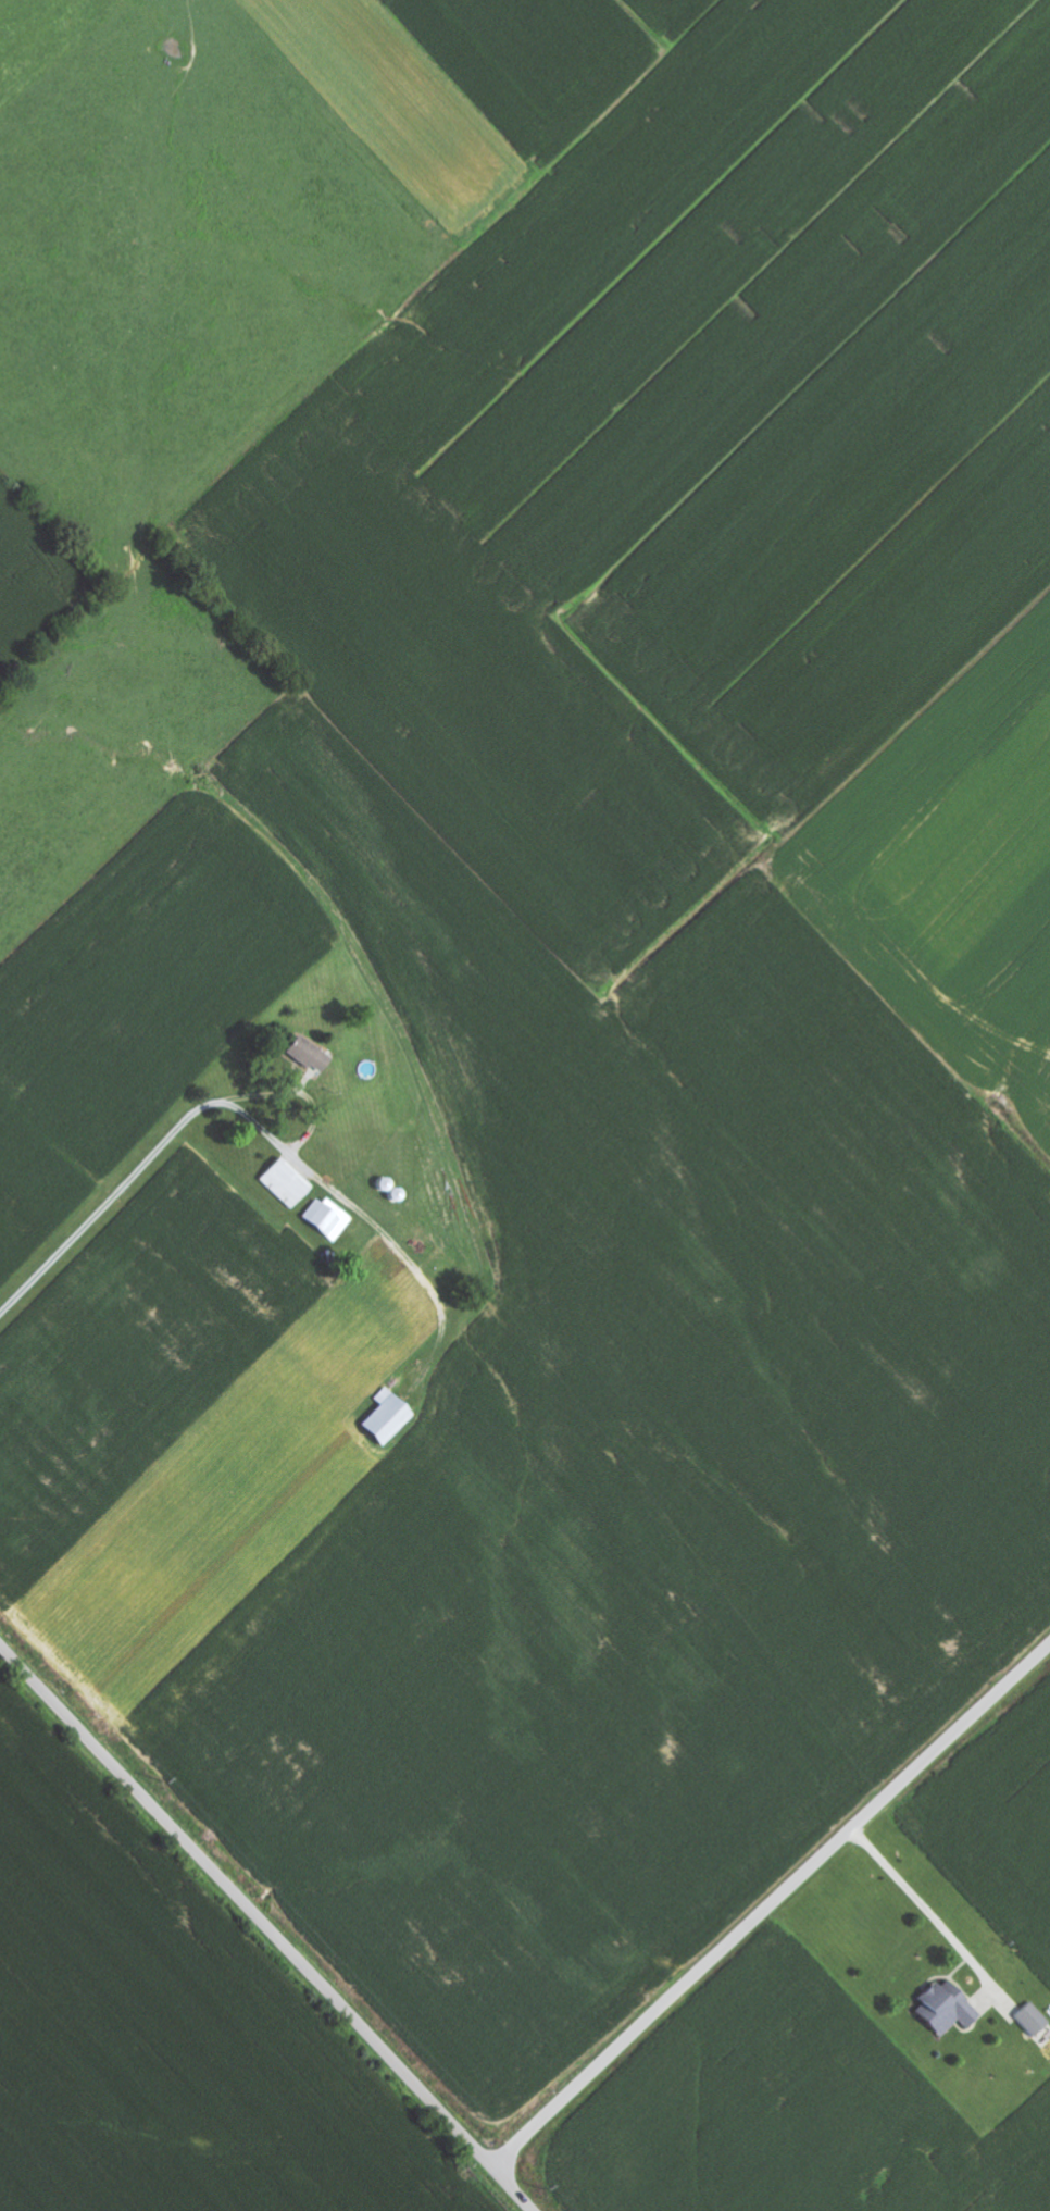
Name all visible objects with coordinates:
road: (72, 711)
building: (311, 1055)
road: (320, 1126)
building: (289, 1184)
road: (109, 1206)
building: (328, 1219)
road: (889, 1356)
building: (389, 1418)
road: (771, 1903)
road: (268, 1925)
building: (949, 2010)
building: (1034, 2020)

